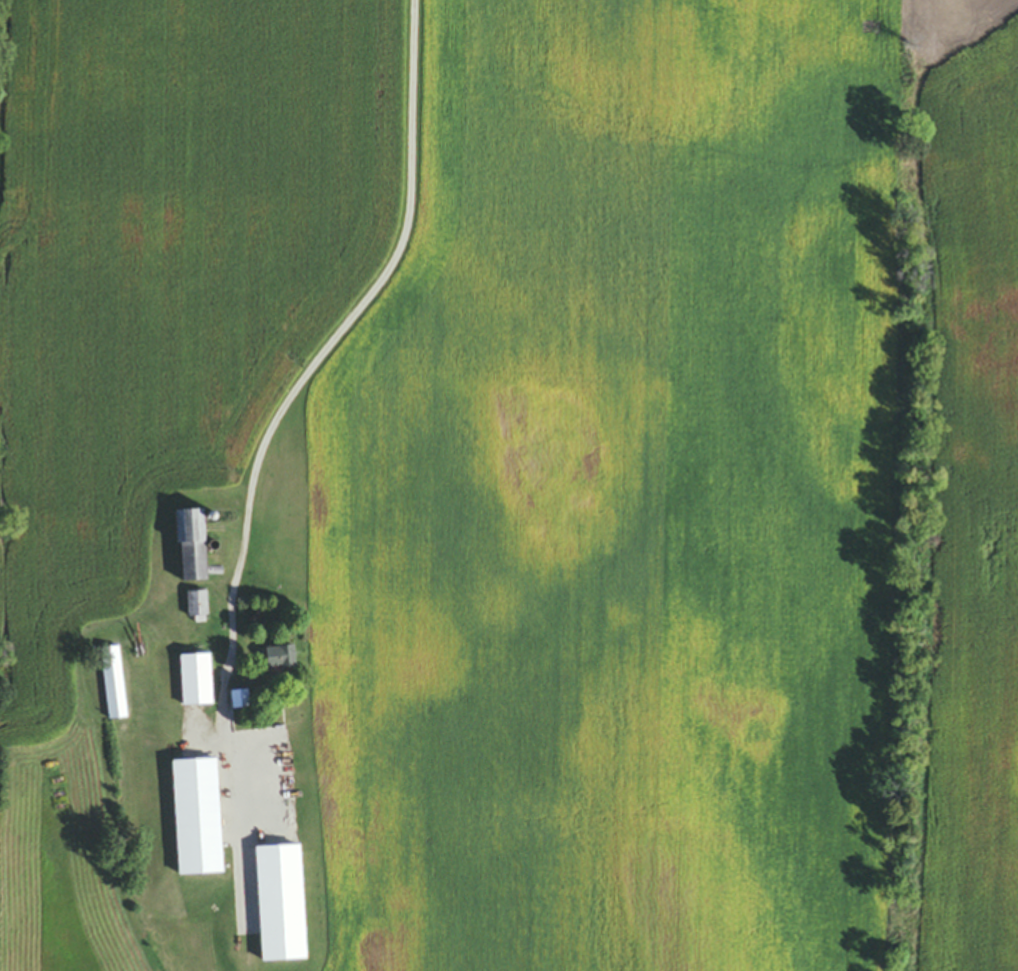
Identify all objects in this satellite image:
road: (310, 375)
building: (190, 549)
building: (197, 608)
building: (279, 660)
building: (195, 683)
building: (113, 686)
building: (254, 716)
building: (196, 819)
building: (279, 905)

